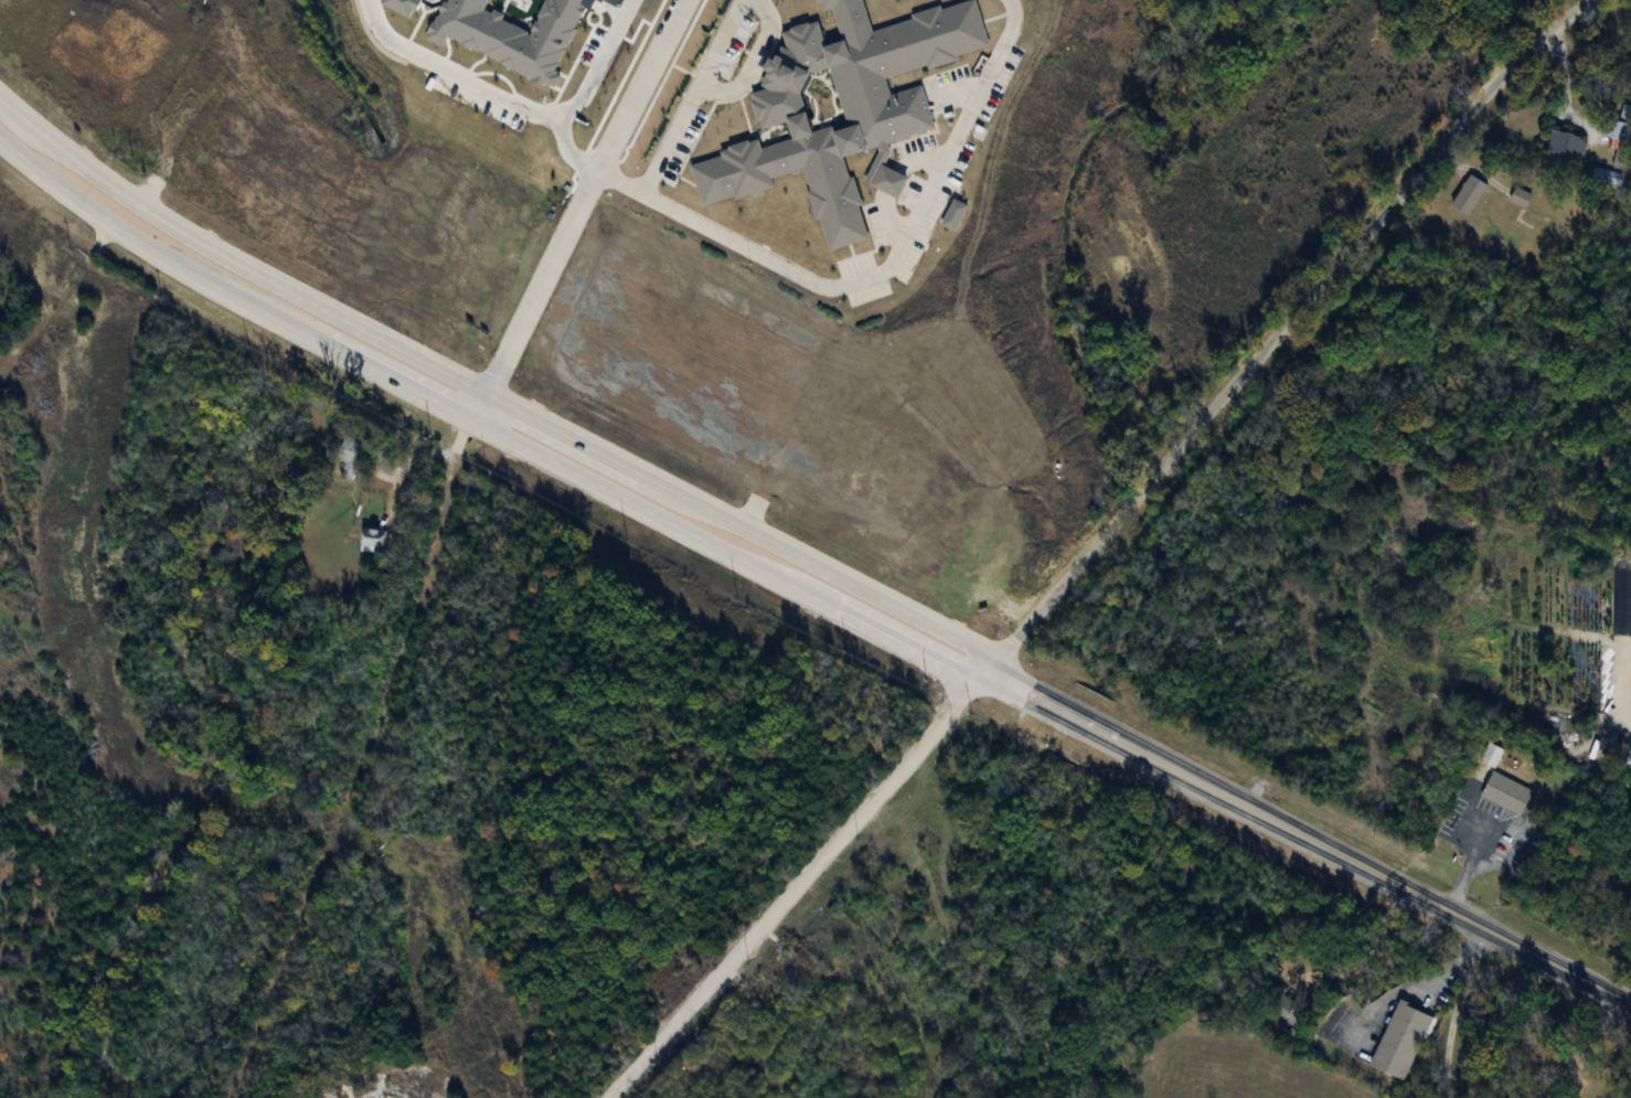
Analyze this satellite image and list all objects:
road: (746, 58)
road: (1561, 86)
road: (685, 92)
road: (507, 96)
building: (1621, 128)
building: (1565, 145)
building: (1606, 177)
building: (1468, 194)
road: (577, 209)
road: (835, 274)
road: (490, 390)
road: (482, 423)
building: (353, 450)
road: (426, 458)
building: (371, 540)
road: (1094, 546)
building: (1489, 757)
building: (1628, 761)
building: (1504, 795)
road: (1308, 838)
road: (1468, 870)
road: (1398, 992)
road: (1453, 1010)
building: (1397, 1043)
road: (1584, 1043)

